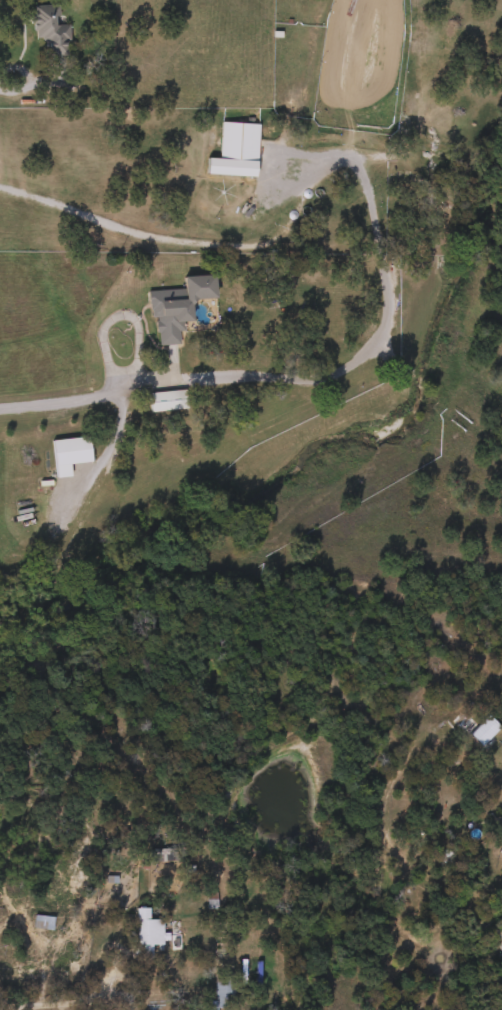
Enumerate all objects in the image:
building: (48, 29)
building: (236, 140)
road: (263, 169)
road: (167, 240)
building: (164, 313)
road: (118, 319)
road: (294, 379)
building: (164, 400)
building: (178, 433)
building: (67, 453)
building: (477, 728)
building: (501, 810)
building: (501, 823)
building: (40, 921)
building: (144, 932)
building: (221, 995)
road: (77, 1004)

